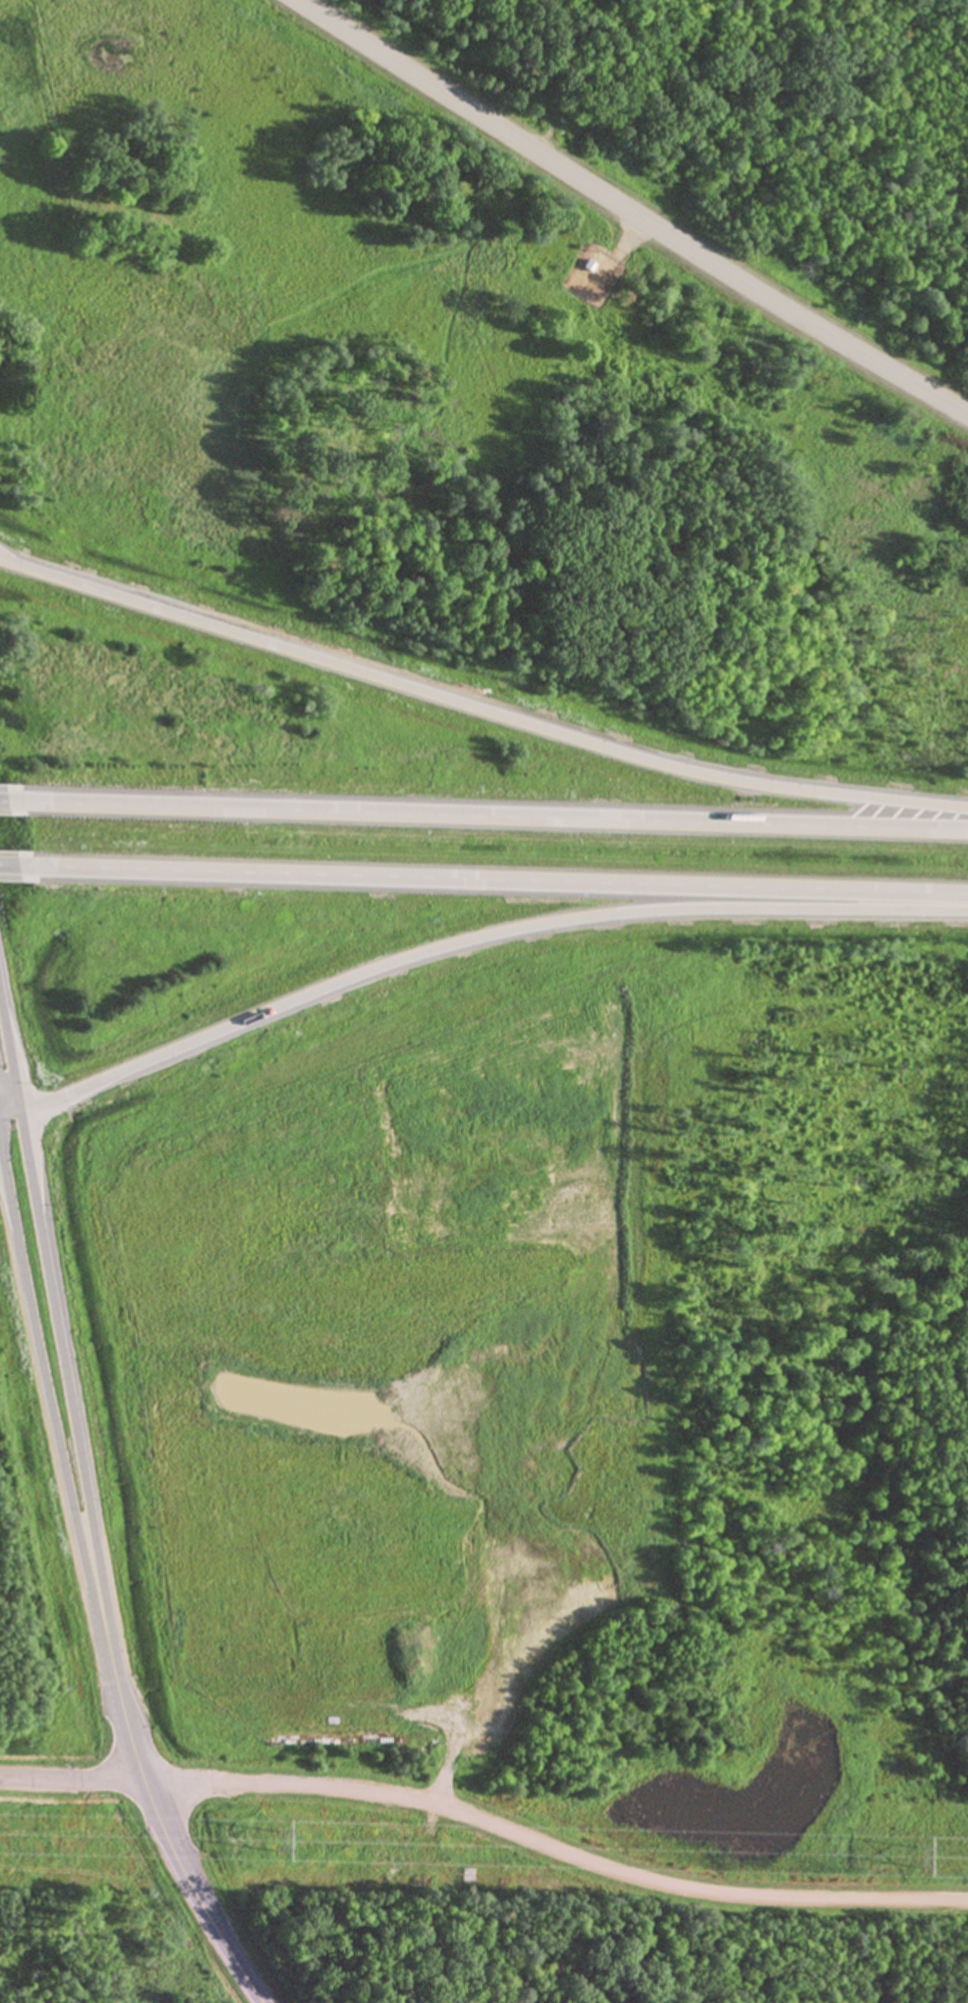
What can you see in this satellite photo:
road: (630, 210)
building: (588, 266)
road: (478, 706)
road: (2, 799)
road: (486, 814)
road: (8, 863)
road: (491, 881)
road: (480, 938)
road: (13, 1043)
road: (2, 1114)
road: (15, 1121)
road: (2, 1124)
road: (5, 1151)
road: (4, 1172)
crop: (401, 1371)
road: (73, 1401)
road: (57, 1432)
road: (119, 1779)
road: (171, 1852)
road: (599, 1864)
building: (432, 1865)

